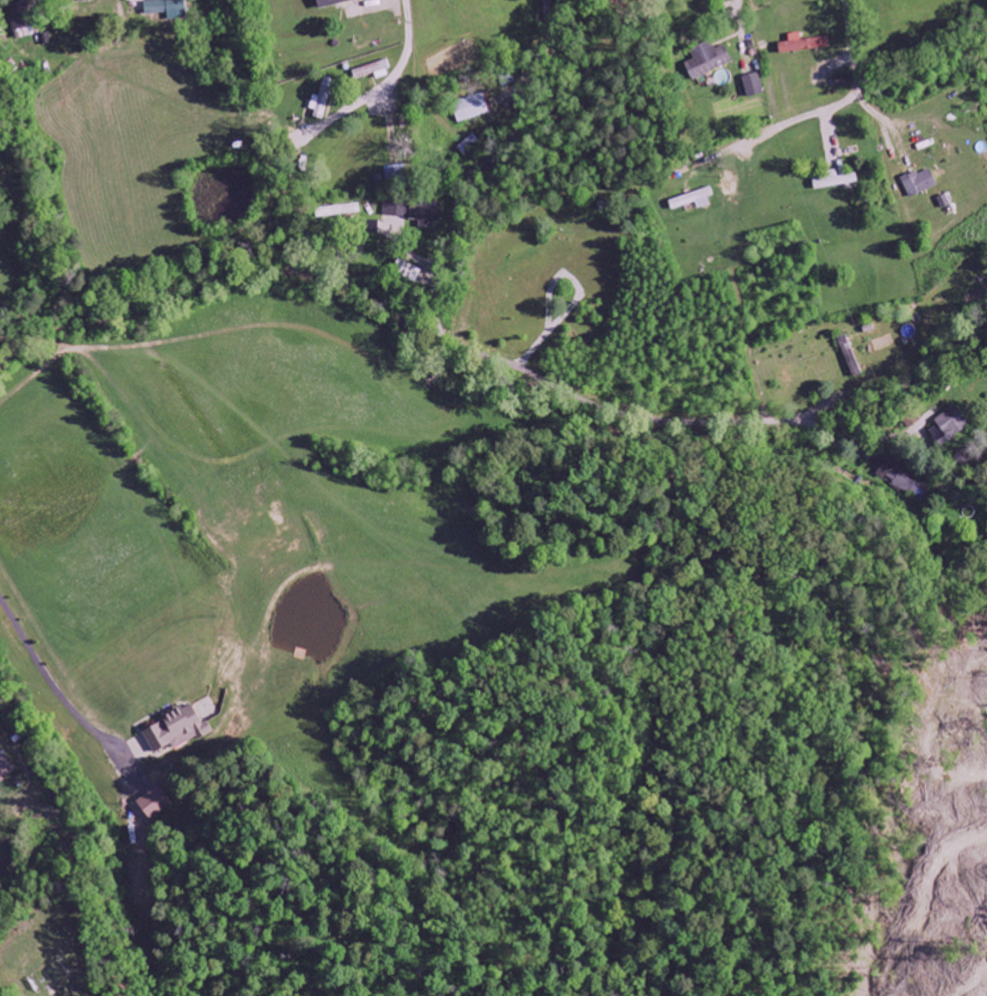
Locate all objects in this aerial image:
building: (74, 1)
building: (335, 3)
road: (373, 5)
building: (168, 9)
road: (754, 14)
road: (910, 17)
building: (803, 44)
building: (708, 61)
building: (372, 71)
building: (844, 81)
road: (383, 85)
building: (753, 86)
building: (321, 101)
building: (471, 109)
road: (484, 168)
building: (396, 174)
building: (843, 181)
building: (919, 183)
building: (692, 201)
building: (416, 212)
building: (410, 272)
building: (850, 357)
road: (636, 416)
building: (950, 425)
building: (902, 480)
building: (177, 729)
building: (6, 768)
building: (155, 803)

